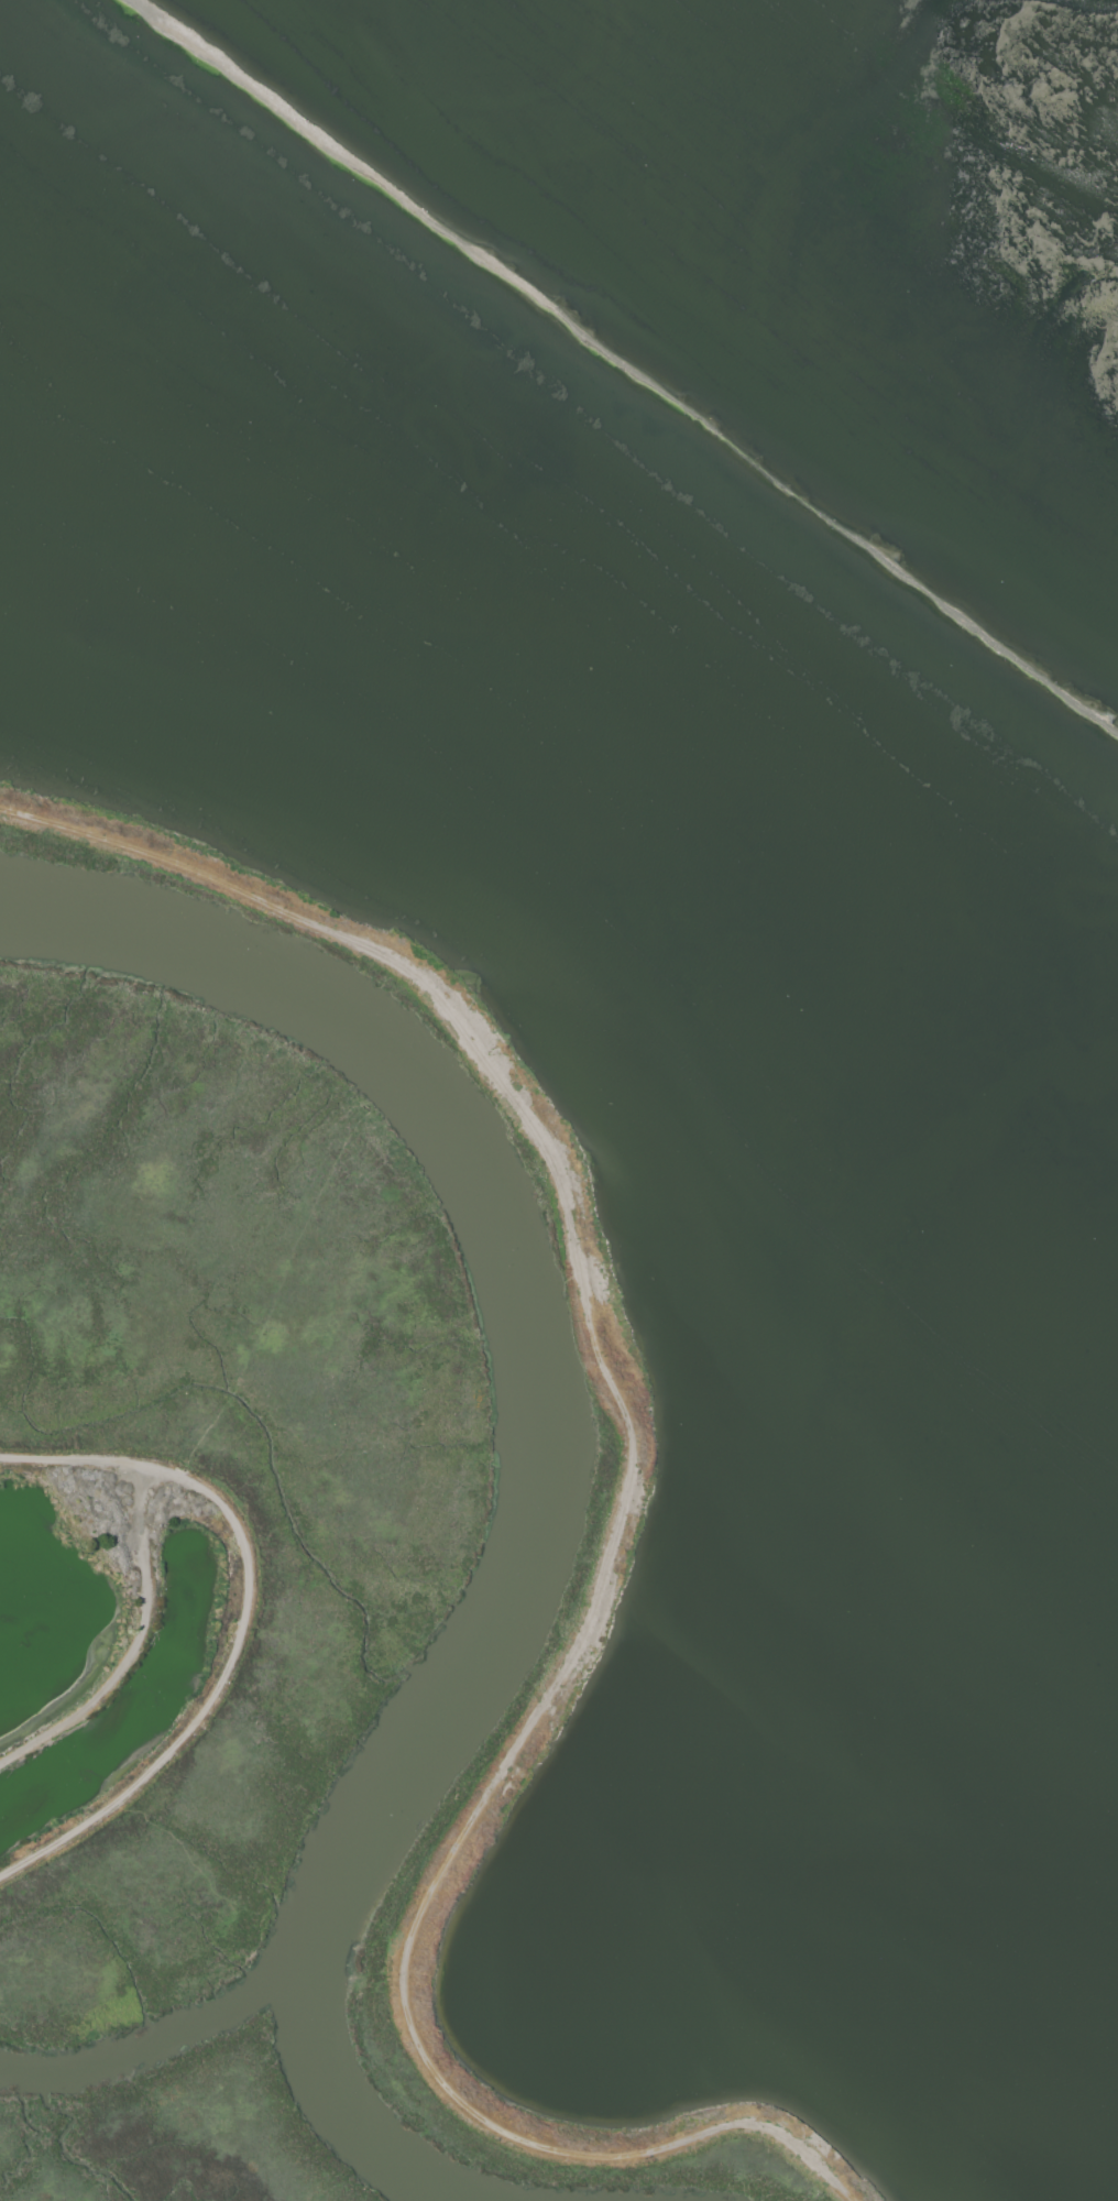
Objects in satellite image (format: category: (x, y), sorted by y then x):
river: (526, 1459)
road: (613, 1540)
road: (241, 1625)
road: (135, 1646)

